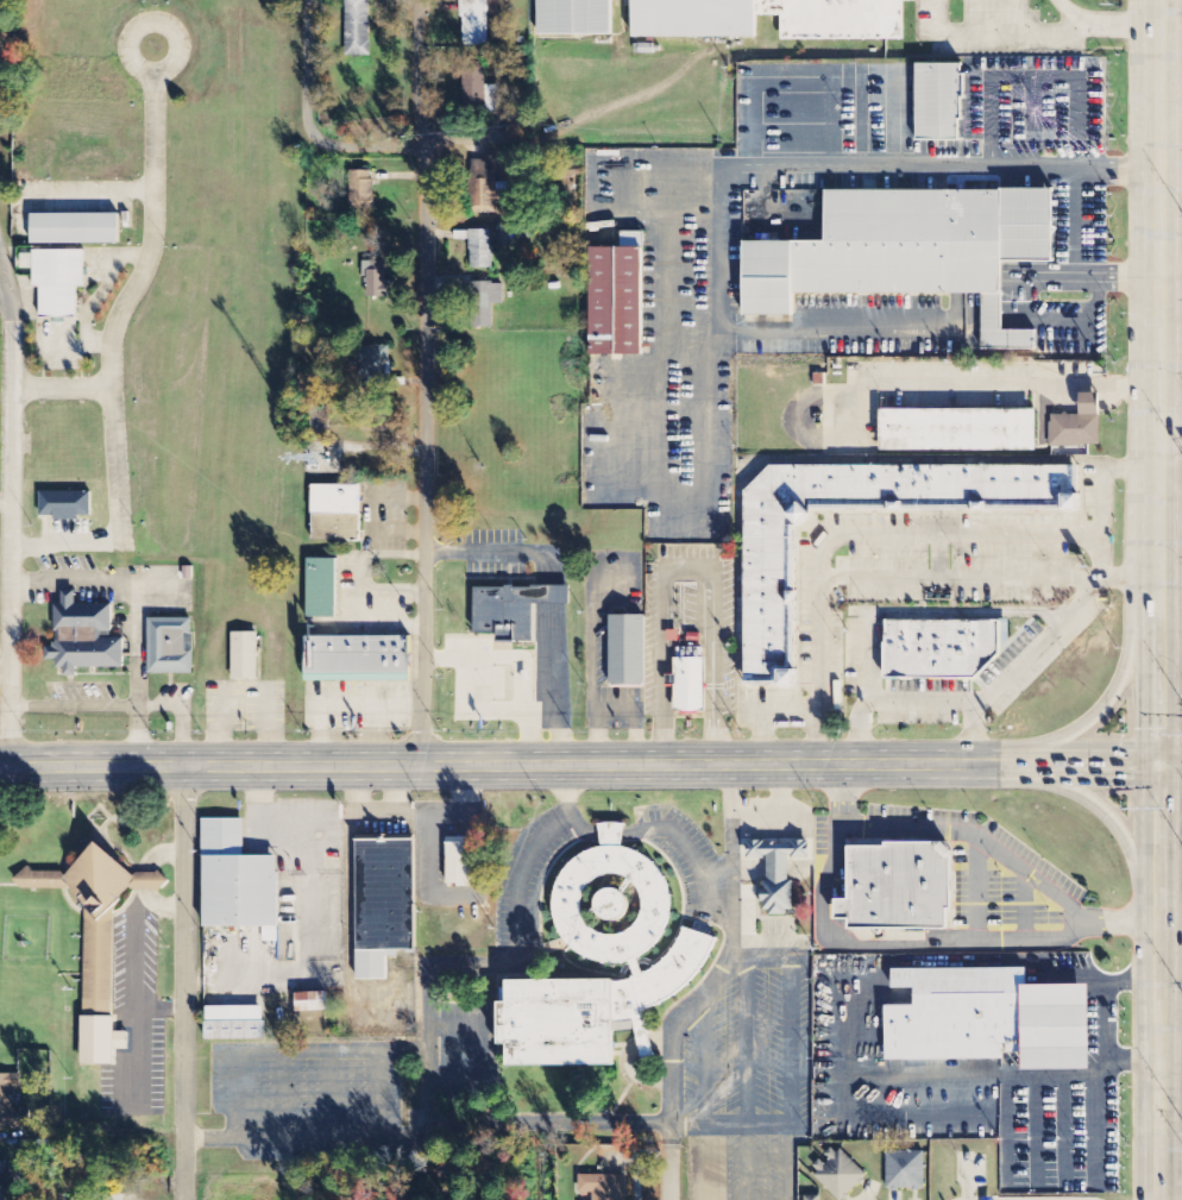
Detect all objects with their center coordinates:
building: (573, 17)
building: (476, 23)
building: (691, 25)
building: (358, 27)
road: (310, 68)
building: (473, 83)
building: (942, 100)
road: (417, 146)
building: (488, 188)
building: (361, 190)
building: (75, 228)
building: (482, 249)
building: (905, 250)
building: (376, 279)
building: (58, 281)
road: (1156, 293)
road: (7, 294)
building: (622, 295)
road: (127, 299)
building: (486, 303)
building: (376, 366)
road: (916, 378)
road: (423, 383)
road: (62, 389)
parking lot: (963, 389)
building: (1080, 425)
building: (960, 431)
road: (1169, 456)
building: (65, 505)
building: (339, 511)
road: (67, 544)
road: (12, 545)
building: (325, 586)
building: (769, 588)
building: (510, 604)
building: (84, 637)
building: (171, 643)
building: (935, 645)
building: (627, 649)
building: (245, 656)
building: (359, 658)
road: (1155, 673)
building: (687, 679)
road: (1102, 716)
traffic signals: (1156, 761)
road: (1061, 762)
road: (1169, 762)
road: (483, 766)
road: (1077, 793)
road: (1157, 818)
building: (459, 862)
road: (1170, 863)
building: (779, 869)
building: (238, 881)
building: (893, 884)
building: (384, 904)
building: (96, 940)
building: (615, 944)
road: (723, 965)
road: (186, 984)
building: (312, 1003)
building: (987, 1014)
building: (235, 1024)
road: (1159, 1038)
building: (12, 1105)
road: (429, 1138)
building: (906, 1170)
building: (838, 1174)
road: (672, 1175)
building: (4, 1180)
building: (113, 1198)
building: (813, 1198)

